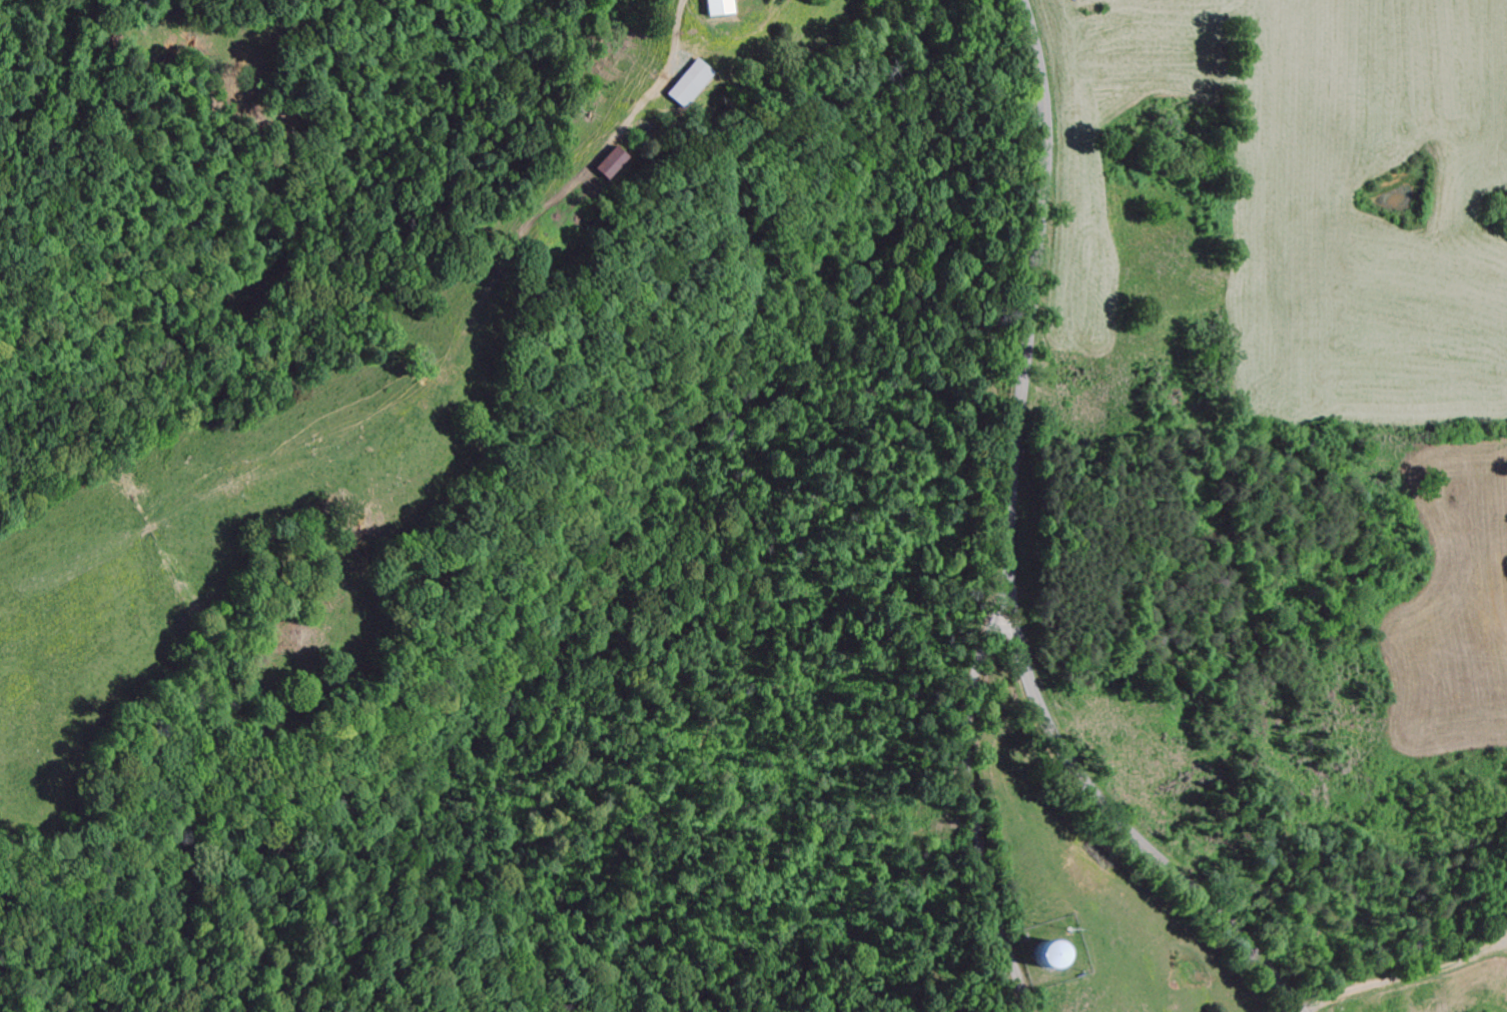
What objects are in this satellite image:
building: (714, 9)
building: (684, 86)
building: (603, 165)
road: (1007, 555)
road: (959, 808)

